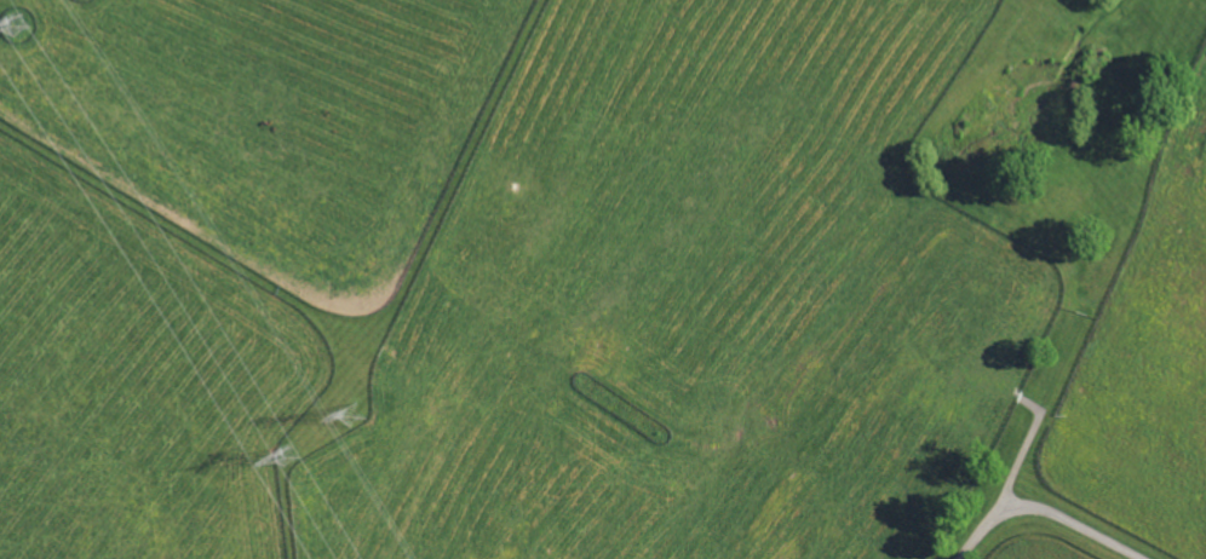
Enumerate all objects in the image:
power tower: (22, 21)
power tower: (356, 415)
power tower: (287, 455)
road: (1044, 513)

